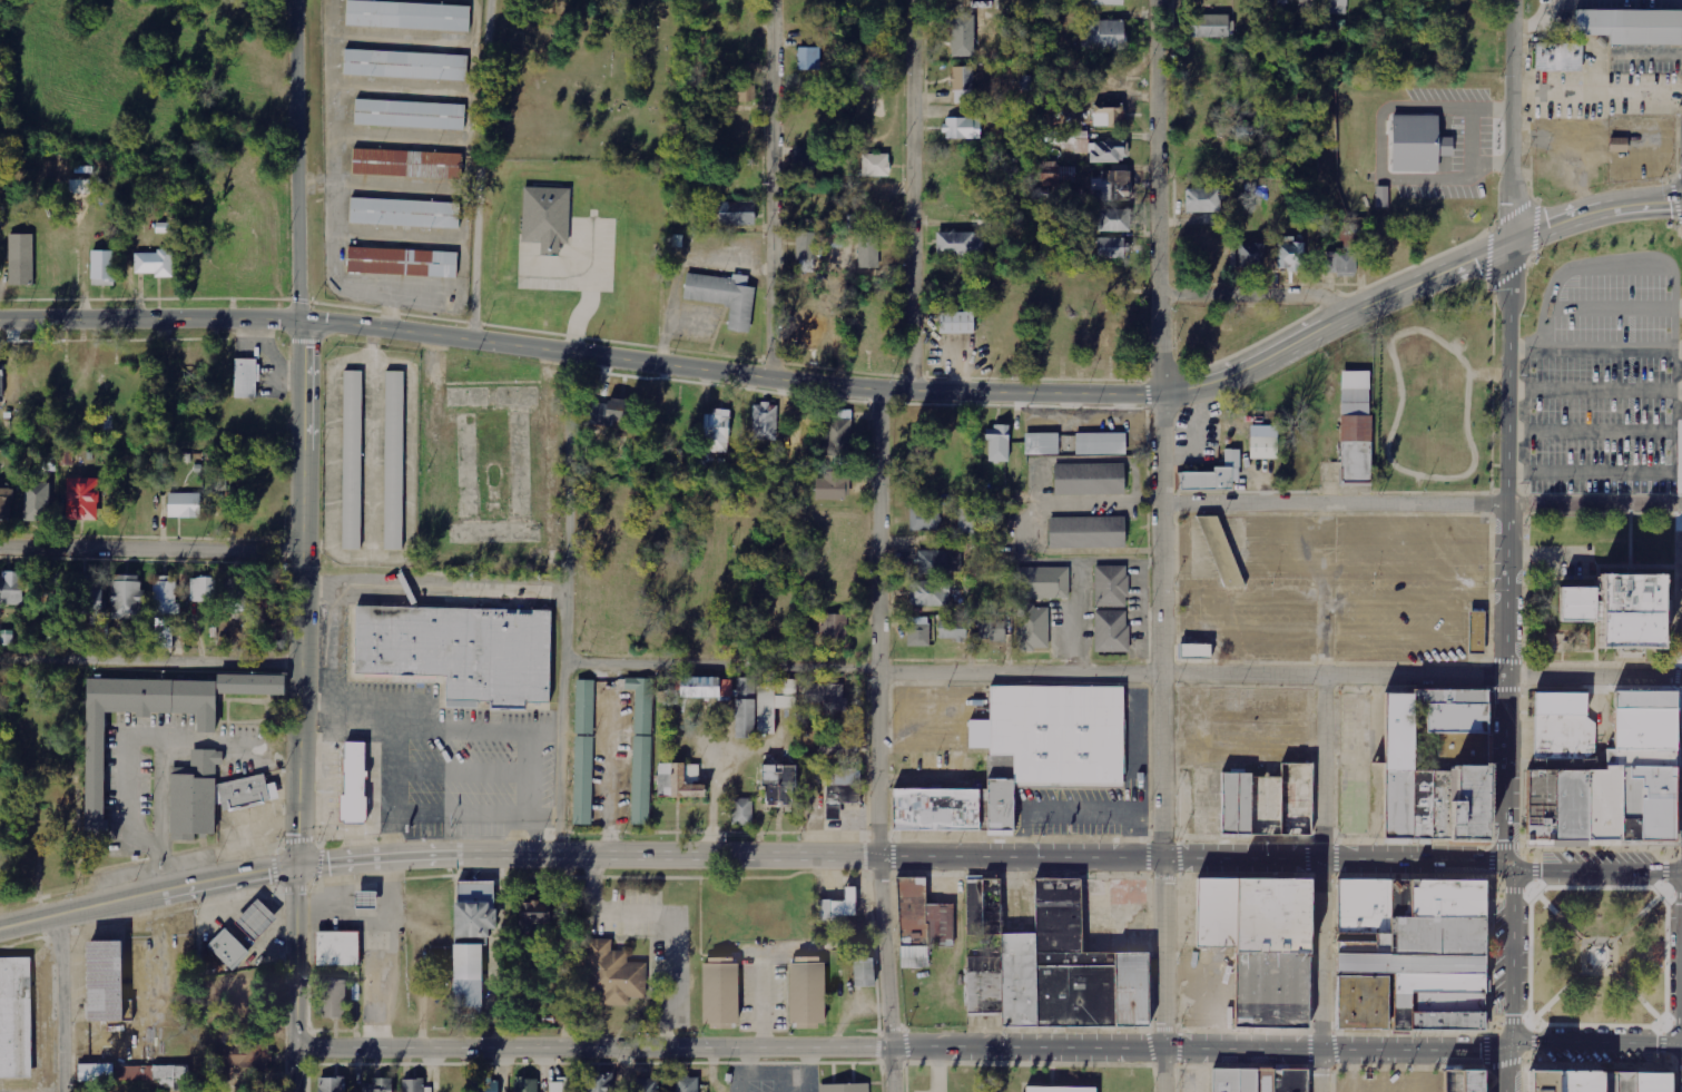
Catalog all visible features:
building: (1282, 0)
building: (1106, 2)
building: (1307, 2)
building: (1338, 7)
building: (405, 17)
building: (1208, 26)
building: (1632, 27)
building: (962, 35)
building: (1105, 36)
building: (1556, 56)
building: (808, 59)
building: (402, 66)
building: (963, 86)
building: (738, 97)
building: (407, 116)
building: (1109, 117)
road: (1515, 121)
building: (962, 129)
building: (1070, 140)
building: (1416, 144)
building: (1619, 145)
building: (1109, 153)
building: (403, 165)
building: (804, 165)
building: (875, 166)
road: (483, 168)
building: (1055, 174)
building: (1111, 187)
road: (776, 188)
road: (916, 194)
building: (1383, 197)
building: (1201, 200)
road: (1595, 213)
building: (736, 214)
building: (401, 215)
building: (545, 218)
building: (1114, 220)
building: (168, 228)
traffic signals: (1515, 244)
building: (960, 245)
building: (806, 247)
building: (1112, 248)
building: (868, 252)
building: (1250, 254)
building: (1290, 255)
building: (21, 260)
building: (1341, 263)
building: (155, 264)
building: (399, 264)
building: (104, 266)
building: (833, 281)
road: (1259, 289)
building: (721, 294)
building: (957, 324)
building: (813, 329)
road: (770, 375)
building: (1, 378)
building: (246, 378)
park: (1433, 396)
building: (618, 413)
parking lot: (1604, 421)
building: (765, 422)
building: (1355, 426)
road: (1163, 429)
building: (715, 431)
road: (304, 433)
building: (837, 439)
building: (997, 443)
building: (1098, 444)
building: (1039, 445)
building: (1263, 447)
building: (350, 456)
building: (66, 458)
building: (391, 459)
building: (1213, 474)
building: (1088, 481)
building: (829, 488)
building: (82, 499)
building: (37, 501)
building: (999, 501)
building: (6, 503)
road: (1424, 503)
building: (184, 505)
road: (1601, 513)
building: (925, 518)
building: (970, 523)
building: (1084, 534)
building: (1219, 552)
road: (151, 553)
road: (1509, 554)
building: (938, 561)
parking lot: (1409, 583)
road: (434, 584)
building: (1041, 584)
building: (1108, 588)
building: (10, 589)
building: (204, 589)
road: (1524, 589)
road: (1678, 590)
building: (50, 591)
building: (929, 593)
building: (89, 594)
building: (237, 594)
building: (127, 597)
building: (165, 600)
road: (565, 601)
building: (269, 604)
building: (1597, 613)
road: (879, 621)
building: (835, 628)
building: (953, 629)
building: (992, 629)
building: (918, 631)
building: (1031, 631)
building: (1476, 632)
building: (1109, 633)
building: (7, 638)
building: (165, 638)
building: (1196, 650)
building: (454, 653)
road: (150, 660)
road: (1123, 672)
road: (1524, 676)
road: (1678, 676)
building: (706, 687)
building: (825, 696)
building: (758, 707)
building: (1561, 726)
building: (1049, 739)
building: (840, 742)
building: (639, 749)
building: (582, 754)
building: (1433, 764)
road: (1523, 765)
road: (1678, 765)
road: (1322, 769)
building: (1614, 779)
building: (679, 780)
building: (94, 783)
building: (353, 783)
building: (778, 784)
building: (844, 786)
building: (205, 798)
building: (1267, 800)
building: (935, 808)
building: (741, 811)
road: (1680, 843)
road: (1506, 844)
road: (1600, 847)
road: (902, 856)
traffic signals: (1509, 865)
road: (1489, 866)
traffic signals: (296, 867)
road: (1535, 867)
road: (1664, 872)
road: (1594, 876)
road: (1512, 888)
road: (1540, 894)
road: (147, 895)
road: (1673, 897)
road: (1545, 899)
building: (365, 901)
road: (1659, 901)
road: (1654, 904)
building: (838, 907)
building: (1218, 911)
building: (1271, 914)
building: (534, 915)
building: (254, 922)
gas station: (254, 922)
building: (918, 924)
road: (1567, 924)
road: (1630, 924)
building: (470, 943)
building: (225, 951)
building: (335, 951)
building: (1407, 953)
road: (1516, 954)
fountain: (1599, 955)
park: (1600, 956)
road: (1676, 957)
road: (295, 960)
road: (1647, 960)
building: (1051, 965)
road: (1614, 971)
building: (864, 972)
road: (1547, 972)
road: (885, 973)
road: (1161, 974)
building: (610, 975)
road: (1322, 976)
building: (104, 983)
road: (1567, 984)
road: (1627, 985)
building: (1269, 986)
building: (805, 993)
building: (719, 995)
building: (331, 1001)
road: (56, 1004)
road: (1649, 1012)
road: (1658, 1012)
road: (1538, 1015)
road: (1672, 1015)
building: (13, 1020)
road: (1508, 1020)
road: (1594, 1039)
road: (1662, 1040)
road: (1533, 1042)
road: (1485, 1043)
traffic signals: (1507, 1044)
road: (901, 1049)
building: (247, 1059)
road: (1616, 1064)
road: (1509, 1065)
road: (1678, 1066)
road: (1507, 1068)
road: (294, 1072)
building: (134, 1075)
building: (1259, 1079)
building: (1459, 1079)
building: (1561, 1079)
parking lot: (1383, 1080)
building: (1641, 1081)
building: (599, 1083)
building: (332, 1084)
building: (525, 1084)
building: (687, 1084)
building: (381, 1085)
building: (413, 1085)
building: (485, 1085)
building: (561, 1085)
building: (647, 1085)
building: (843, 1086)
building: (1056, 1089)

